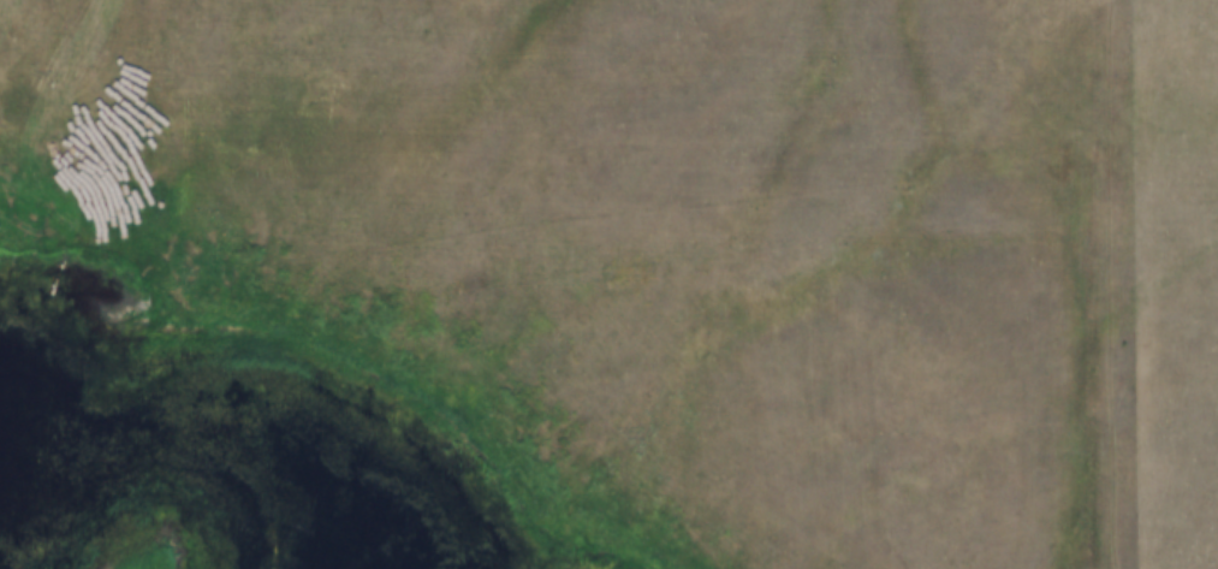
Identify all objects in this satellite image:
road: (106, 159)

